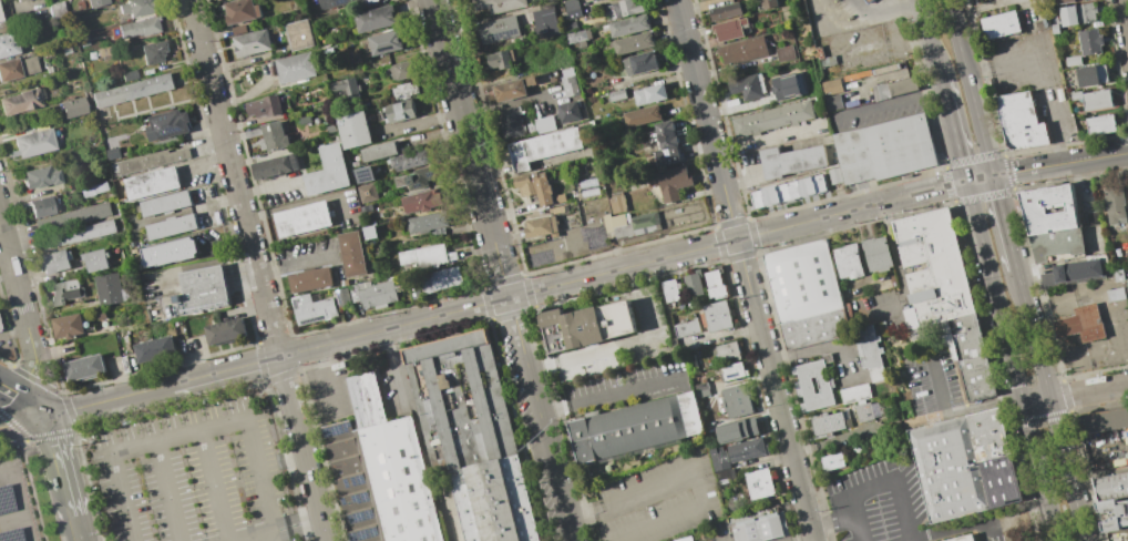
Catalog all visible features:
building: (19, 0)
building: (114, 0)
building: (596, 0)
building: (868, 1)
building: (1066, 1)
building: (96, 2)
building: (330, 2)
rooftop solar panel: (341, 2)
building: (768, 3)
building: (496, 4)
building: (136, 7)
road: (983, 7)
building: (571, 8)
building: (625, 8)
building: (55, 10)
building: (240, 10)
building: (726, 11)
building: (1088, 11)
road: (1026, 12)
building: (1068, 16)
building: (375, 18)
building: (0, 19)
building: (545, 20)
road: (1124, 22)
building: (999, 24)
building: (571, 25)
building: (628, 25)
building: (139, 27)
building: (498, 28)
building: (238, 29)
building: (730, 29)
rooftop solar panel: (502, 33)
building: (298, 34)
building: (578, 35)
road: (929, 41)
building: (1089, 41)
building: (250, 42)
building: (384, 42)
building: (633, 42)
building: (7, 43)
building: (742, 49)
building: (105, 51)
building: (153, 52)
building: (785, 53)
building: (499, 59)
building: (1073, 60)
road: (1005, 61)
building: (642, 62)
building: (17, 68)
building: (294, 68)
building: (401, 70)
building: (129, 74)
building: (1088, 75)
building: (537, 79)
parking lot: (1035, 80)
building: (568, 84)
building: (831, 85)
building: (902, 85)
building: (747, 86)
building: (786, 86)
road: (972, 88)
building: (131, 90)
building: (345, 90)
building: (404, 90)
building: (509, 90)
building: (880, 91)
building: (615, 94)
building: (649, 94)
building: (1094, 99)
building: (19, 101)
building: (832, 102)
road: (891, 104)
building: (266, 105)
building: (72, 108)
building: (399, 111)
building: (567, 111)
building: (642, 115)
building: (771, 118)
building: (304, 119)
building: (1019, 120)
building: (510, 121)
building: (166, 124)
building: (544, 124)
building: (1100, 124)
rooftop solar panel: (172, 127)
building: (330, 129)
building: (353, 130)
road: (952, 131)
road: (1056, 133)
building: (274, 135)
road: (769, 139)
building: (33, 142)
building: (666, 143)
building: (543, 146)
road: (470, 149)
building: (379, 151)
building: (580, 152)
building: (890, 152)
building: (112, 153)
building: (411, 159)
building: (151, 160)
building: (791, 160)
building: (275, 166)
building: (327, 171)
building: (365, 174)
building: (834, 175)
traffic signals: (995, 175)
building: (40, 176)
road: (235, 177)
building: (416, 177)
traffic signals: (964, 181)
building: (673, 182)
building: (151, 183)
building: (534, 186)
road: (269, 187)
building: (95, 188)
building: (787, 190)
building: (367, 192)
building: (560, 197)
building: (422, 201)
building: (616, 202)
building: (165, 203)
building: (592, 205)
building: (1115, 205)
building: (42, 206)
building: (558, 208)
building: (1048, 208)
building: (73, 215)
road: (816, 217)
building: (301, 218)
road: (1005, 221)
building: (427, 222)
building: (645, 223)
building: (617, 224)
building: (541, 225)
building: (171, 226)
building: (370, 232)
building: (78, 234)
building: (1056, 243)
building: (167, 252)
building: (351, 253)
building: (425, 255)
building: (868, 258)
building: (94, 259)
building: (54, 261)
road: (296, 264)
road: (900, 266)
building: (940, 266)
road: (745, 270)
building: (1071, 272)
road: (16, 275)
building: (440, 278)
building: (309, 279)
building: (1127, 282)
building: (695, 285)
building: (717, 285)
building: (204, 287)
road: (1021, 287)
building: (107, 288)
building: (414, 290)
building: (671, 290)
building: (64, 292)
building: (372, 293)
road: (994, 293)
building: (810, 294)
building: (1115, 294)
building: (341, 297)
road: (1050, 300)
building: (178, 304)
building: (311, 308)
building: (100, 315)
building: (718, 316)
building: (618, 319)
building: (1080, 323)
building: (68, 325)
road: (1066, 326)
building: (585, 327)
building: (687, 328)
building: (224, 330)
building: (556, 330)
road: (517, 334)
building: (973, 336)
road: (613, 348)
building: (153, 349)
road: (821, 350)
building: (727, 351)
building: (870, 351)
road: (288, 354)
road: (1038, 354)
building: (691, 361)
road: (1076, 364)
building: (83, 367)
road: (393, 367)
road: (24, 369)
building: (734, 371)
rooftop solar panel: (732, 374)
road: (47, 375)
building: (983, 378)
road: (326, 380)
road: (937, 380)
building: (816, 386)
building: (883, 387)
building: (703, 390)
road: (1088, 392)
building: (855, 394)
road: (604, 396)
road: (24, 399)
building: (368, 399)
building: (484, 399)
building: (738, 401)
road: (1037, 402)
road: (961, 410)
road: (60, 412)
building: (864, 412)
traffic signals: (50, 416)
building: (1103, 420)
road: (24, 421)
building: (829, 423)
road: (248, 425)
building: (635, 427)
rooftop solar panel: (339, 429)
building: (738, 430)
road: (845, 440)
road: (135, 447)
road: (302, 448)
building: (748, 449)
road: (548, 456)
building: (995, 458)
building: (720, 461)
building: (833, 461)
road: (63, 465)
building: (947, 469)
road: (1068, 470)
road: (688, 471)
road: (1040, 473)
road: (1099, 473)
parking lot: (193, 476)
rooftop solar panel: (361, 481)
building: (386, 482)
rooftop solar panel: (349, 483)
building: (760, 483)
road: (880, 484)
road: (214, 486)
building: (1110, 487)
rooftop solar panel: (361, 497)
road: (20, 498)
rooftop solar panel: (345, 500)
building: (495, 501)
parking lot: (878, 502)
building: (1114, 513)
road: (12, 518)
rooftop solar panel: (360, 518)
road: (833, 522)
road: (80, 528)
road: (273, 528)
building: (762, 529)
road: (953, 530)
rooftop solar panel: (363, 533)
road: (274, 534)
building: (1117, 535)
road: (799, 538)
building: (963, 538)
building: (685, 539)
road: (718, 540)

